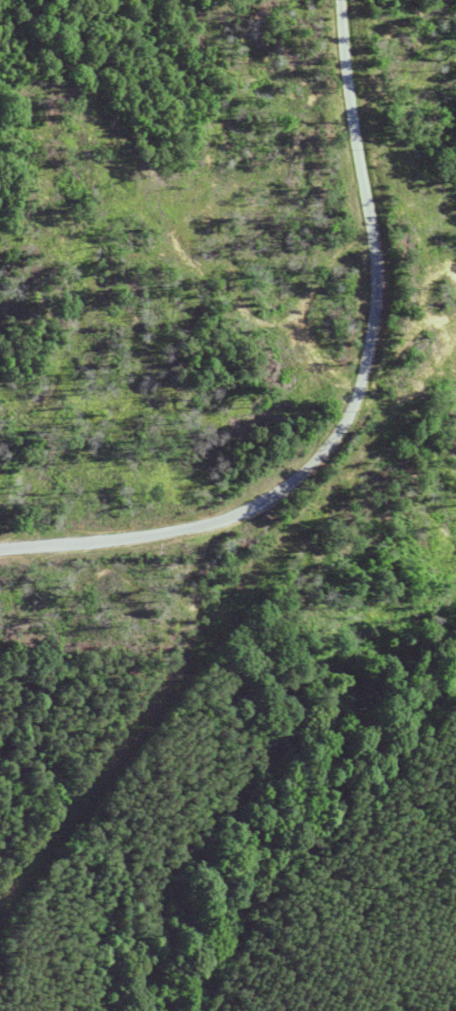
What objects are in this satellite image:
road: (349, 375)

